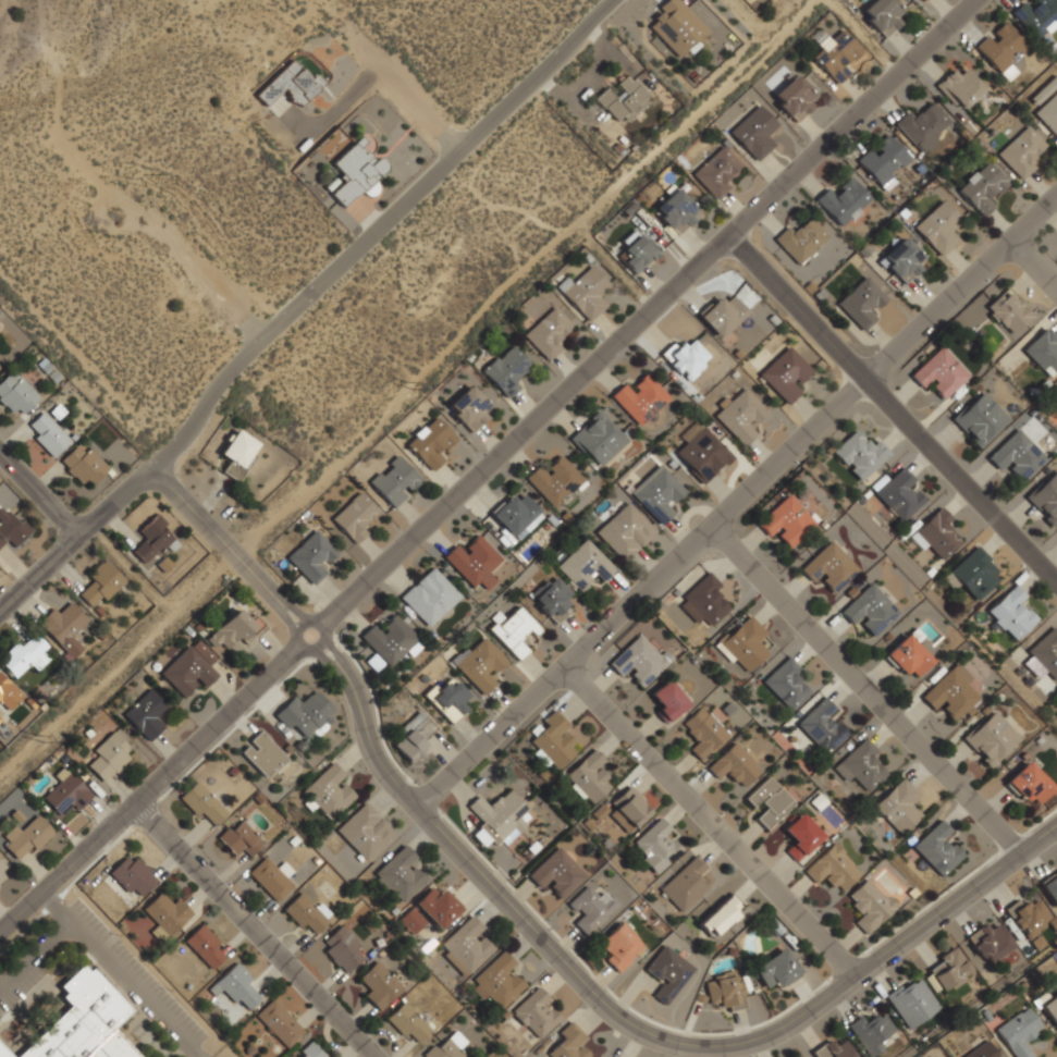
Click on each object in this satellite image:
building: (925, 0)
building: (75, 11)
building: (882, 15)
building: (1037, 16)
building: (678, 27)
building: (95, 45)
building: (1000, 46)
building: (835, 52)
road: (390, 76)
building: (110, 82)
building: (4, 83)
building: (290, 85)
building: (961, 88)
building: (795, 98)
building: (624, 99)
building: (1048, 113)
building: (131, 119)
building: (11, 120)
building: (924, 125)
building: (754, 133)
building: (1024, 149)
building: (149, 155)
building: (883, 159)
building: (23, 160)
building: (716, 172)
building: (356, 173)
building: (173, 188)
building: (982, 189)
road: (107, 192)
building: (42, 198)
building: (844, 201)
building: (674, 210)
building: (194, 223)
road: (374, 229)
building: (939, 229)
building: (65, 232)
building: (462, 235)
building: (800, 241)
building: (637, 251)
road: (1040, 257)
building: (902, 260)
building: (216, 261)
building: (85, 268)
building: (585, 292)
building: (245, 296)
building: (401, 299)
building: (861, 303)
building: (109, 305)
building: (1009, 314)
building: (722, 315)
building: (548, 333)
building: (131, 340)
building: (1044, 352)
building: (686, 359)
building: (506, 370)
building: (161, 372)
building: (939, 372)
building: (785, 373)
building: (15, 393)
power tower: (416, 395)
building: (640, 400)
road: (895, 402)
building: (469, 409)
building: (741, 416)
building: (981, 421)
building: (46, 434)
building: (598, 440)
building: (430, 442)
building: (701, 452)
building: (236, 453)
building: (860, 454)
building: (1016, 456)
building: (82, 466)
road: (487, 467)
building: (394, 481)
building: (554, 482)
building: (657, 494)
building: (900, 494)
road: (37, 496)
building: (1046, 500)
road: (737, 504)
building: (514, 516)
building: (354, 517)
building: (786, 520)
building: (11, 528)
building: (625, 532)
building: (936, 533)
road: (74, 536)
building: (155, 539)
building: (310, 556)
building: (471, 564)
building: (585, 567)
building: (829, 569)
building: (975, 573)
building: (100, 585)
building: (428, 597)
building: (552, 599)
building: (703, 600)
building: (870, 611)
building: (1011, 613)
building: (62, 627)
building: (234, 629)
building: (515, 631)
building: (388, 643)
building: (745, 644)
building: (1046, 652)
building: (23, 654)
building: (911, 654)
building: (638, 661)
building: (478, 664)
building: (190, 667)
building: (786, 684)
road: (870, 691)
building: (951, 691)
building: (8, 696)
building: (447, 699)
building: (668, 700)
building: (146, 714)
building: (304, 715)
building: (821, 726)
building: (703, 734)
building: (413, 737)
building: (991, 739)
building: (552, 740)
power tower: (46, 747)
building: (263, 754)
building: (109, 755)
building: (735, 765)
building: (860, 765)
building: (588, 777)
building: (1029, 784)
building: (66, 792)
building: (329, 792)
building: (769, 801)
building: (202, 804)
building: (899, 806)
building: (630, 807)
building: (499, 815)
road: (712, 819)
building: (366, 833)
building: (801, 837)
building: (25, 838)
building: (238, 838)
building: (656, 844)
building: (937, 848)
building: (833, 869)
building: (3, 873)
building: (556, 873)
building: (398, 875)
building: (132, 876)
building: (271, 877)
building: (687, 885)
building: (1050, 887)
building: (869, 906)
building: (589, 909)
building: (430, 911)
building: (306, 914)
building: (165, 915)
building: (722, 915)
building: (1031, 917)
road: (258, 930)
road: (544, 936)
building: (988, 942)
building: (205, 946)
building: (465, 947)
building: (341, 948)
building: (619, 948)
road: (33, 954)
building: (777, 969)
building: (948, 969)
parking lot: (27, 970)
parking lot: (137, 970)
building: (667, 973)
road: (118, 975)
building: (497, 983)
building: (234, 985)
building: (378, 985)
building: (724, 991)
building: (912, 1001)
building: (1050, 1008)
building: (534, 1012)
building: (83, 1021)
building: (279, 1023)
building: (407, 1024)
building: (1018, 1032)
building: (871, 1033)
building: (569, 1043)
building: (447, 1046)
building: (834, 1050)
building: (981, 1050)
building: (309, 1052)
building: (3, 1053)

